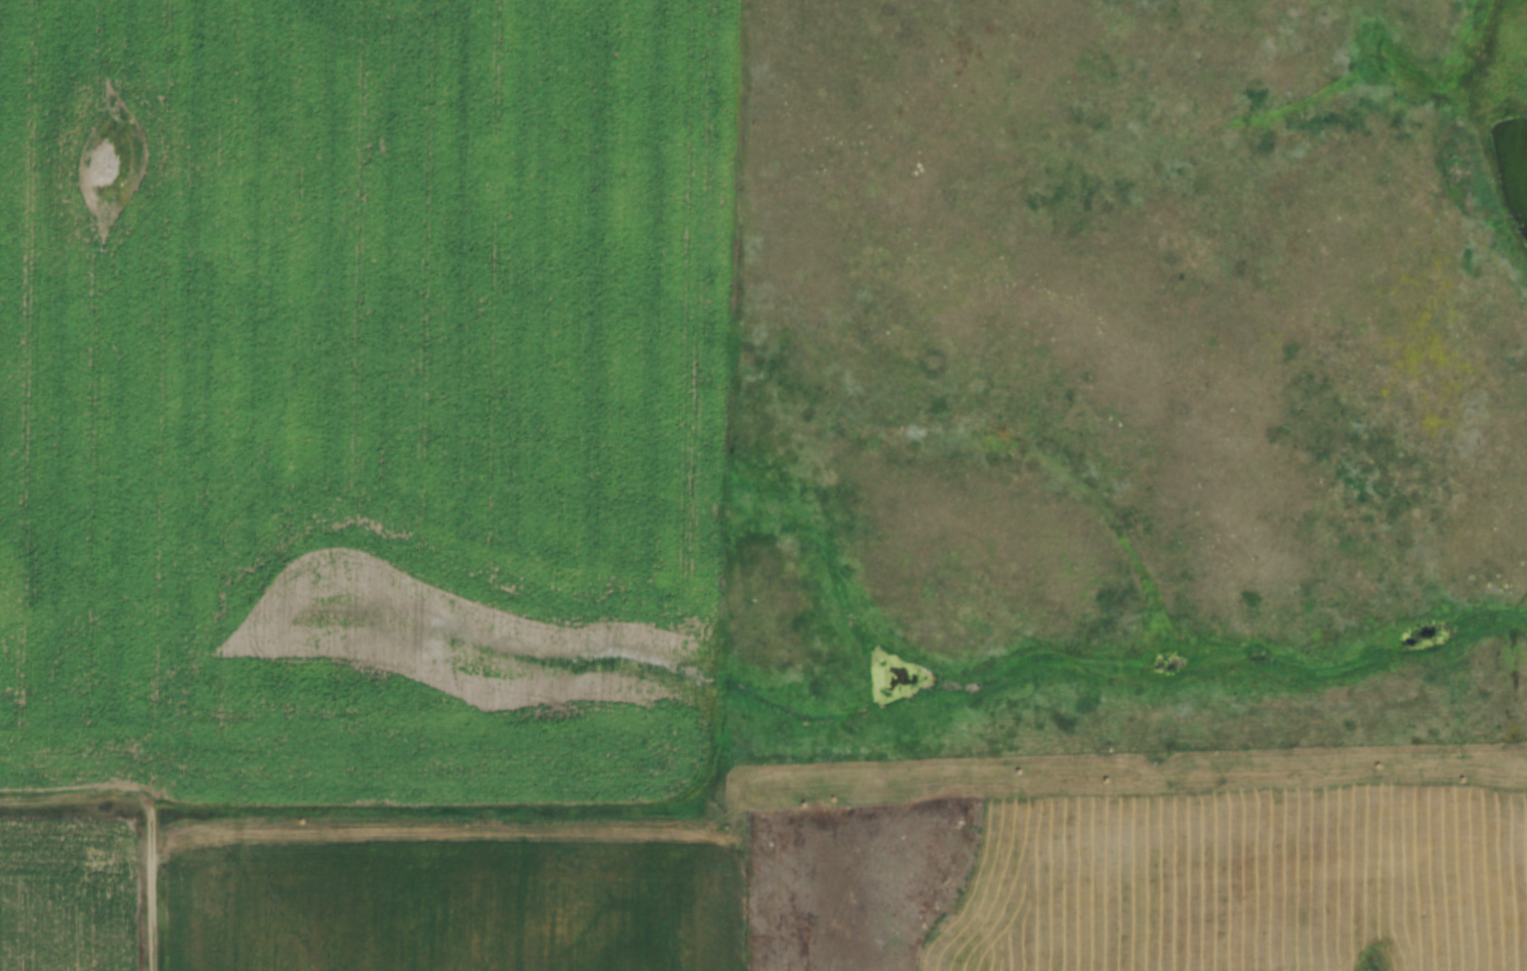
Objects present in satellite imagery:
road: (704, 740)
road: (151, 885)

